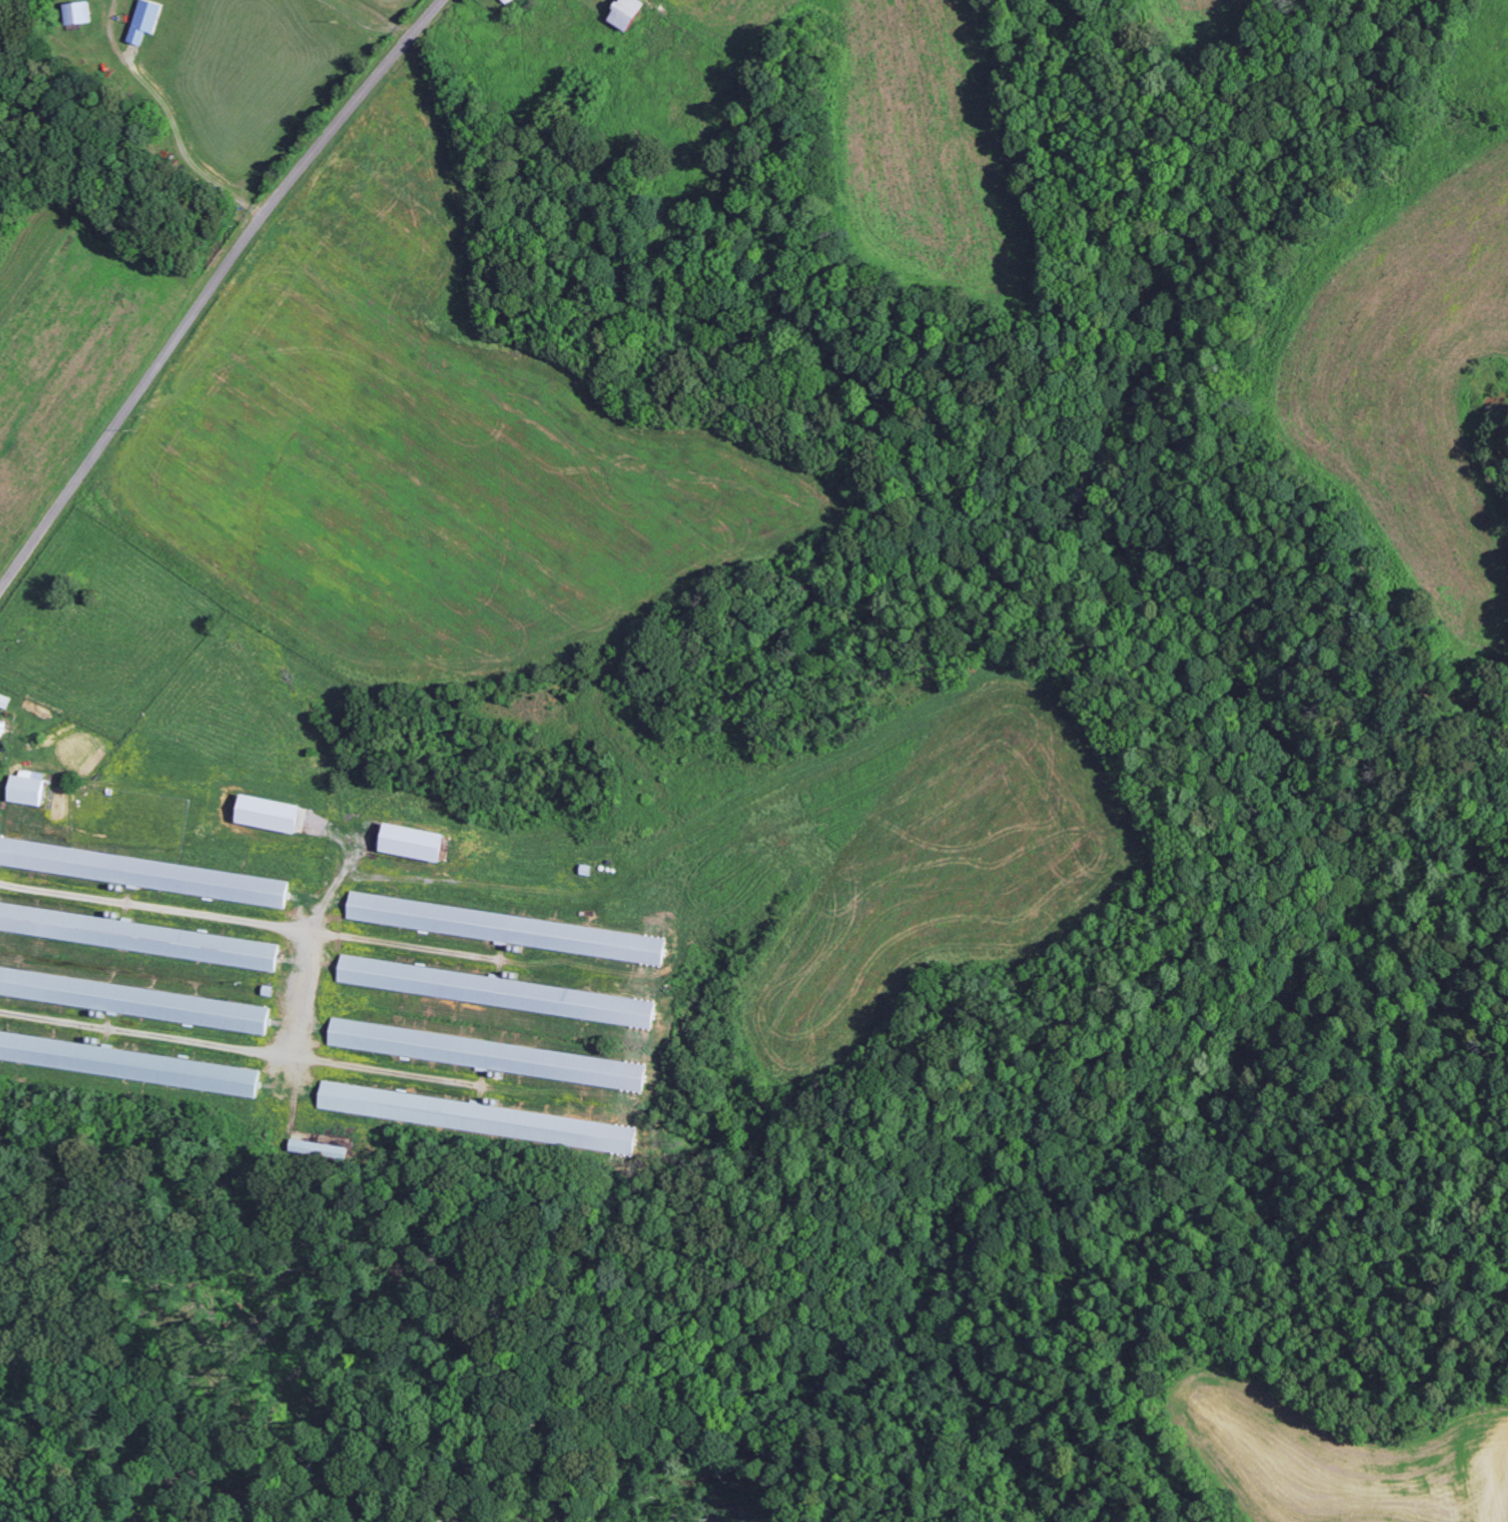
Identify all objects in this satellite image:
building: (80, 14)
building: (633, 14)
building: (144, 21)
road: (356, 26)
road: (171, 121)
road: (211, 288)
building: (259, 813)
building: (404, 842)
building: (142, 873)
building: (501, 928)
building: (138, 937)
road: (298, 983)
building: (492, 991)
building: (132, 1000)
building: (482, 1054)
building: (128, 1064)
building: (473, 1117)

